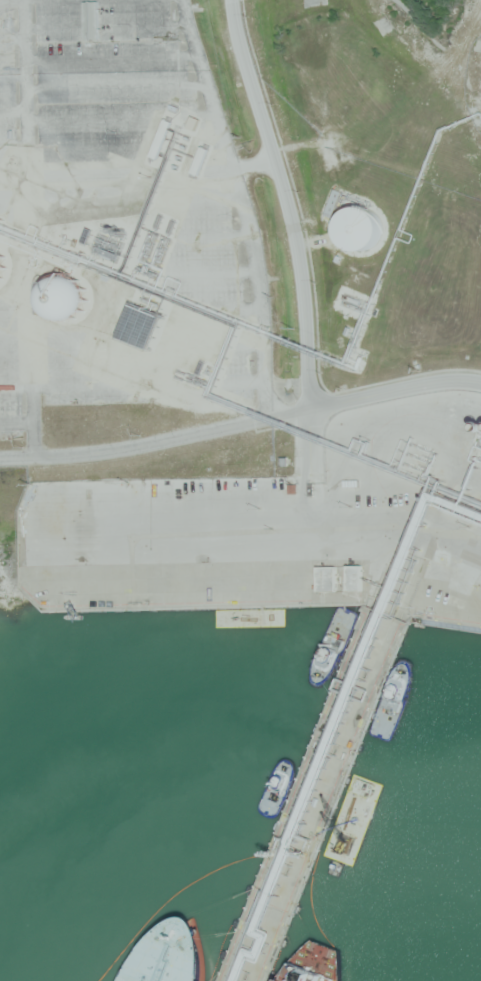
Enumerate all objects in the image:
building: (383, 24)
building: (479, 45)
road: (285, 200)
building: (344, 203)
building: (361, 227)
storage tank: (361, 227)
building: (4, 266)
storage tank: (4, 266)
building: (69, 297)
storage tank: (69, 297)
road: (395, 387)
building: (326, 577)
building: (355, 577)
building: (464, 579)
building: (393, 599)
pier: (312, 796)

